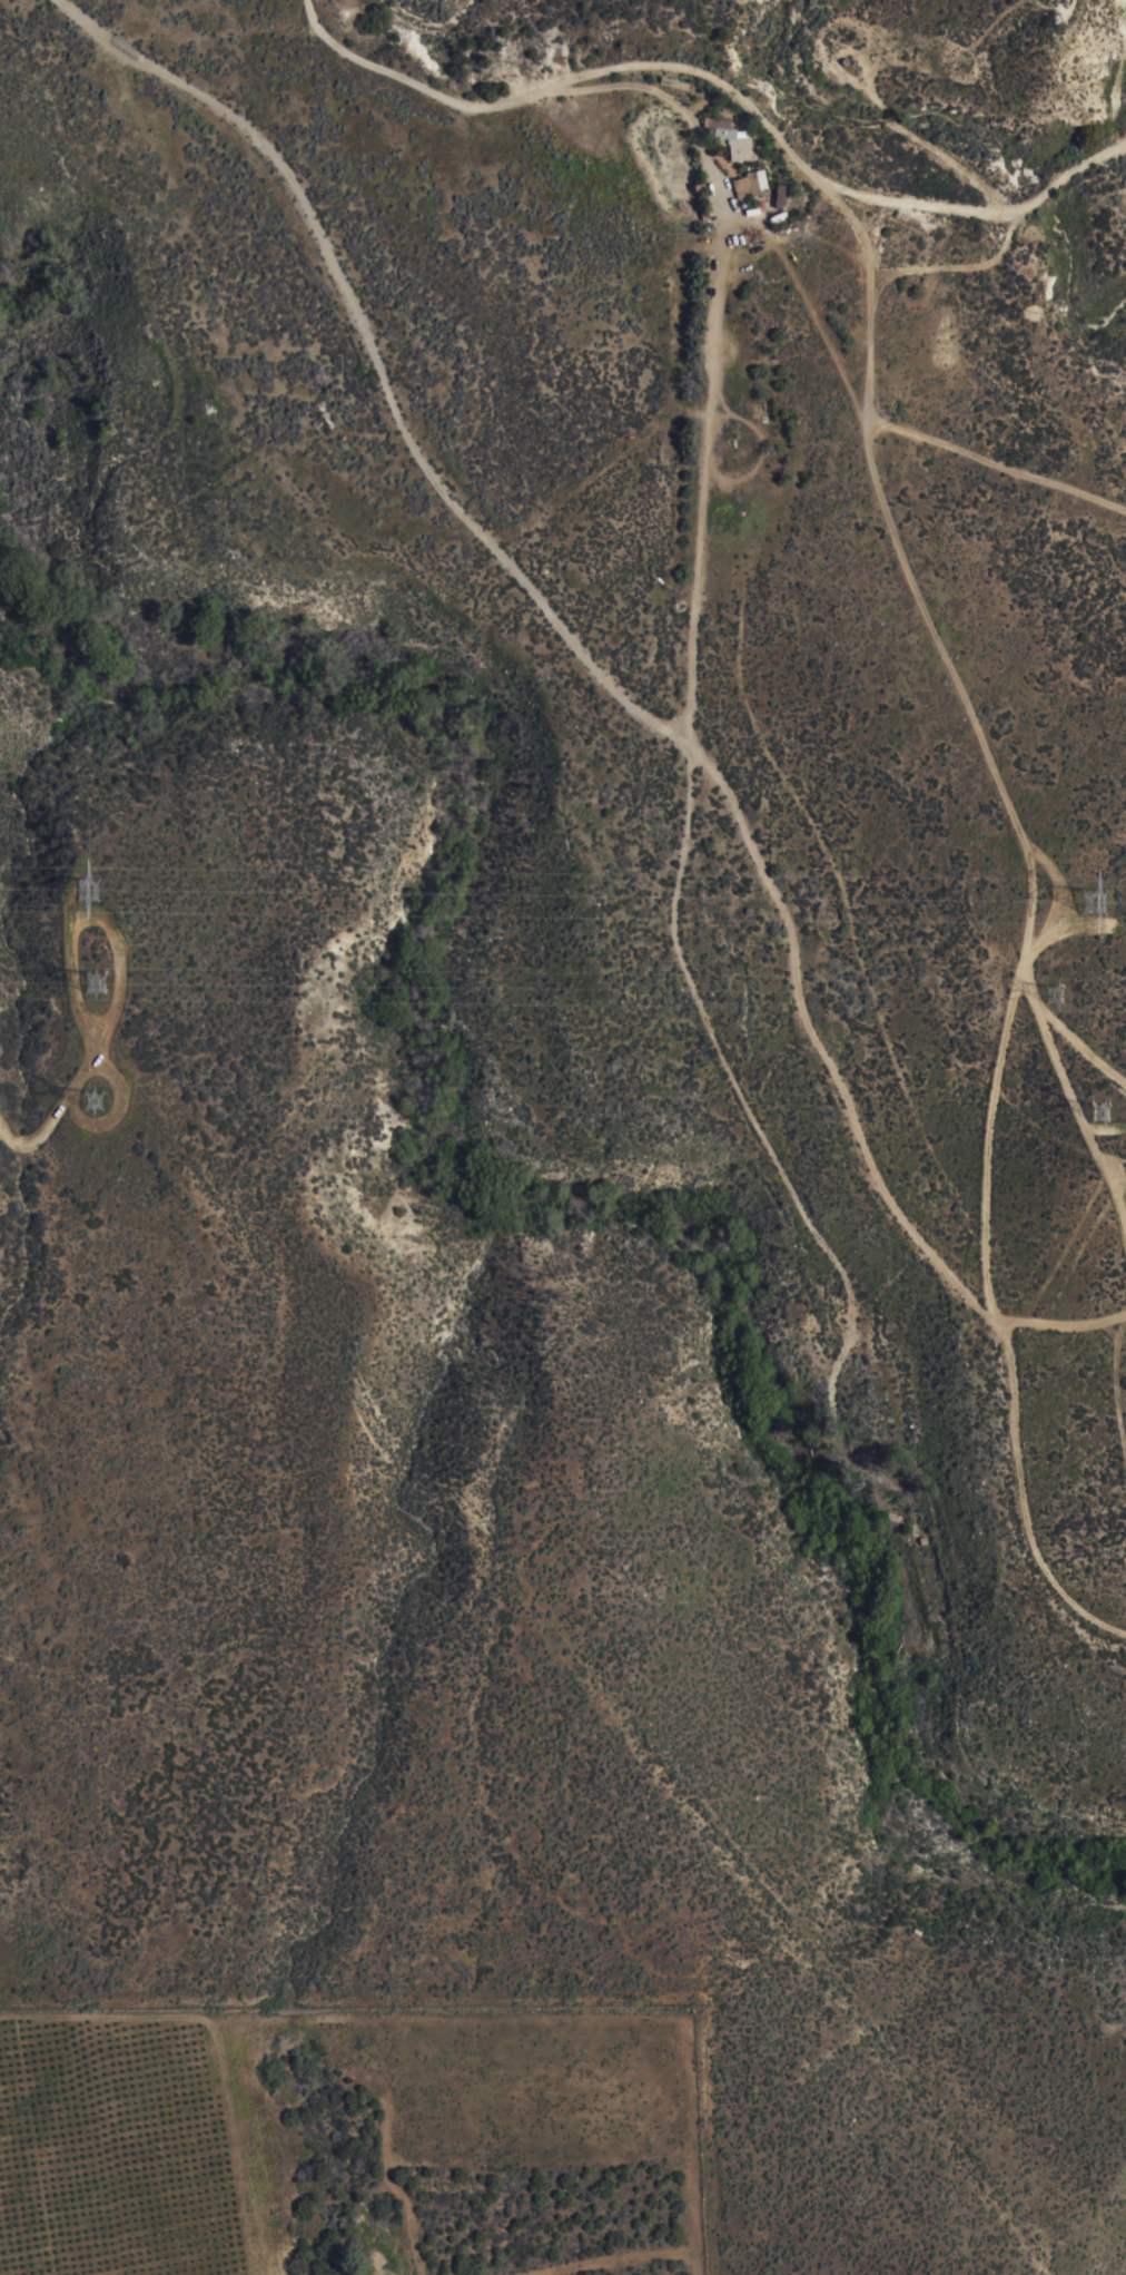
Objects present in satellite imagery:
road: (393, 70)
building: (674, 84)
building: (731, 139)
road: (819, 179)
building: (750, 185)
road: (997, 463)
road: (615, 690)
power tower: (91, 889)
power tower: (1097, 903)
road: (1027, 914)
power tower: (97, 985)
power tower: (1063, 996)
road: (817, 1032)
power tower: (96, 1099)
power tower: (1105, 1116)
road: (53, 1117)
road: (1060, 1326)
crop: (125, 2151)

